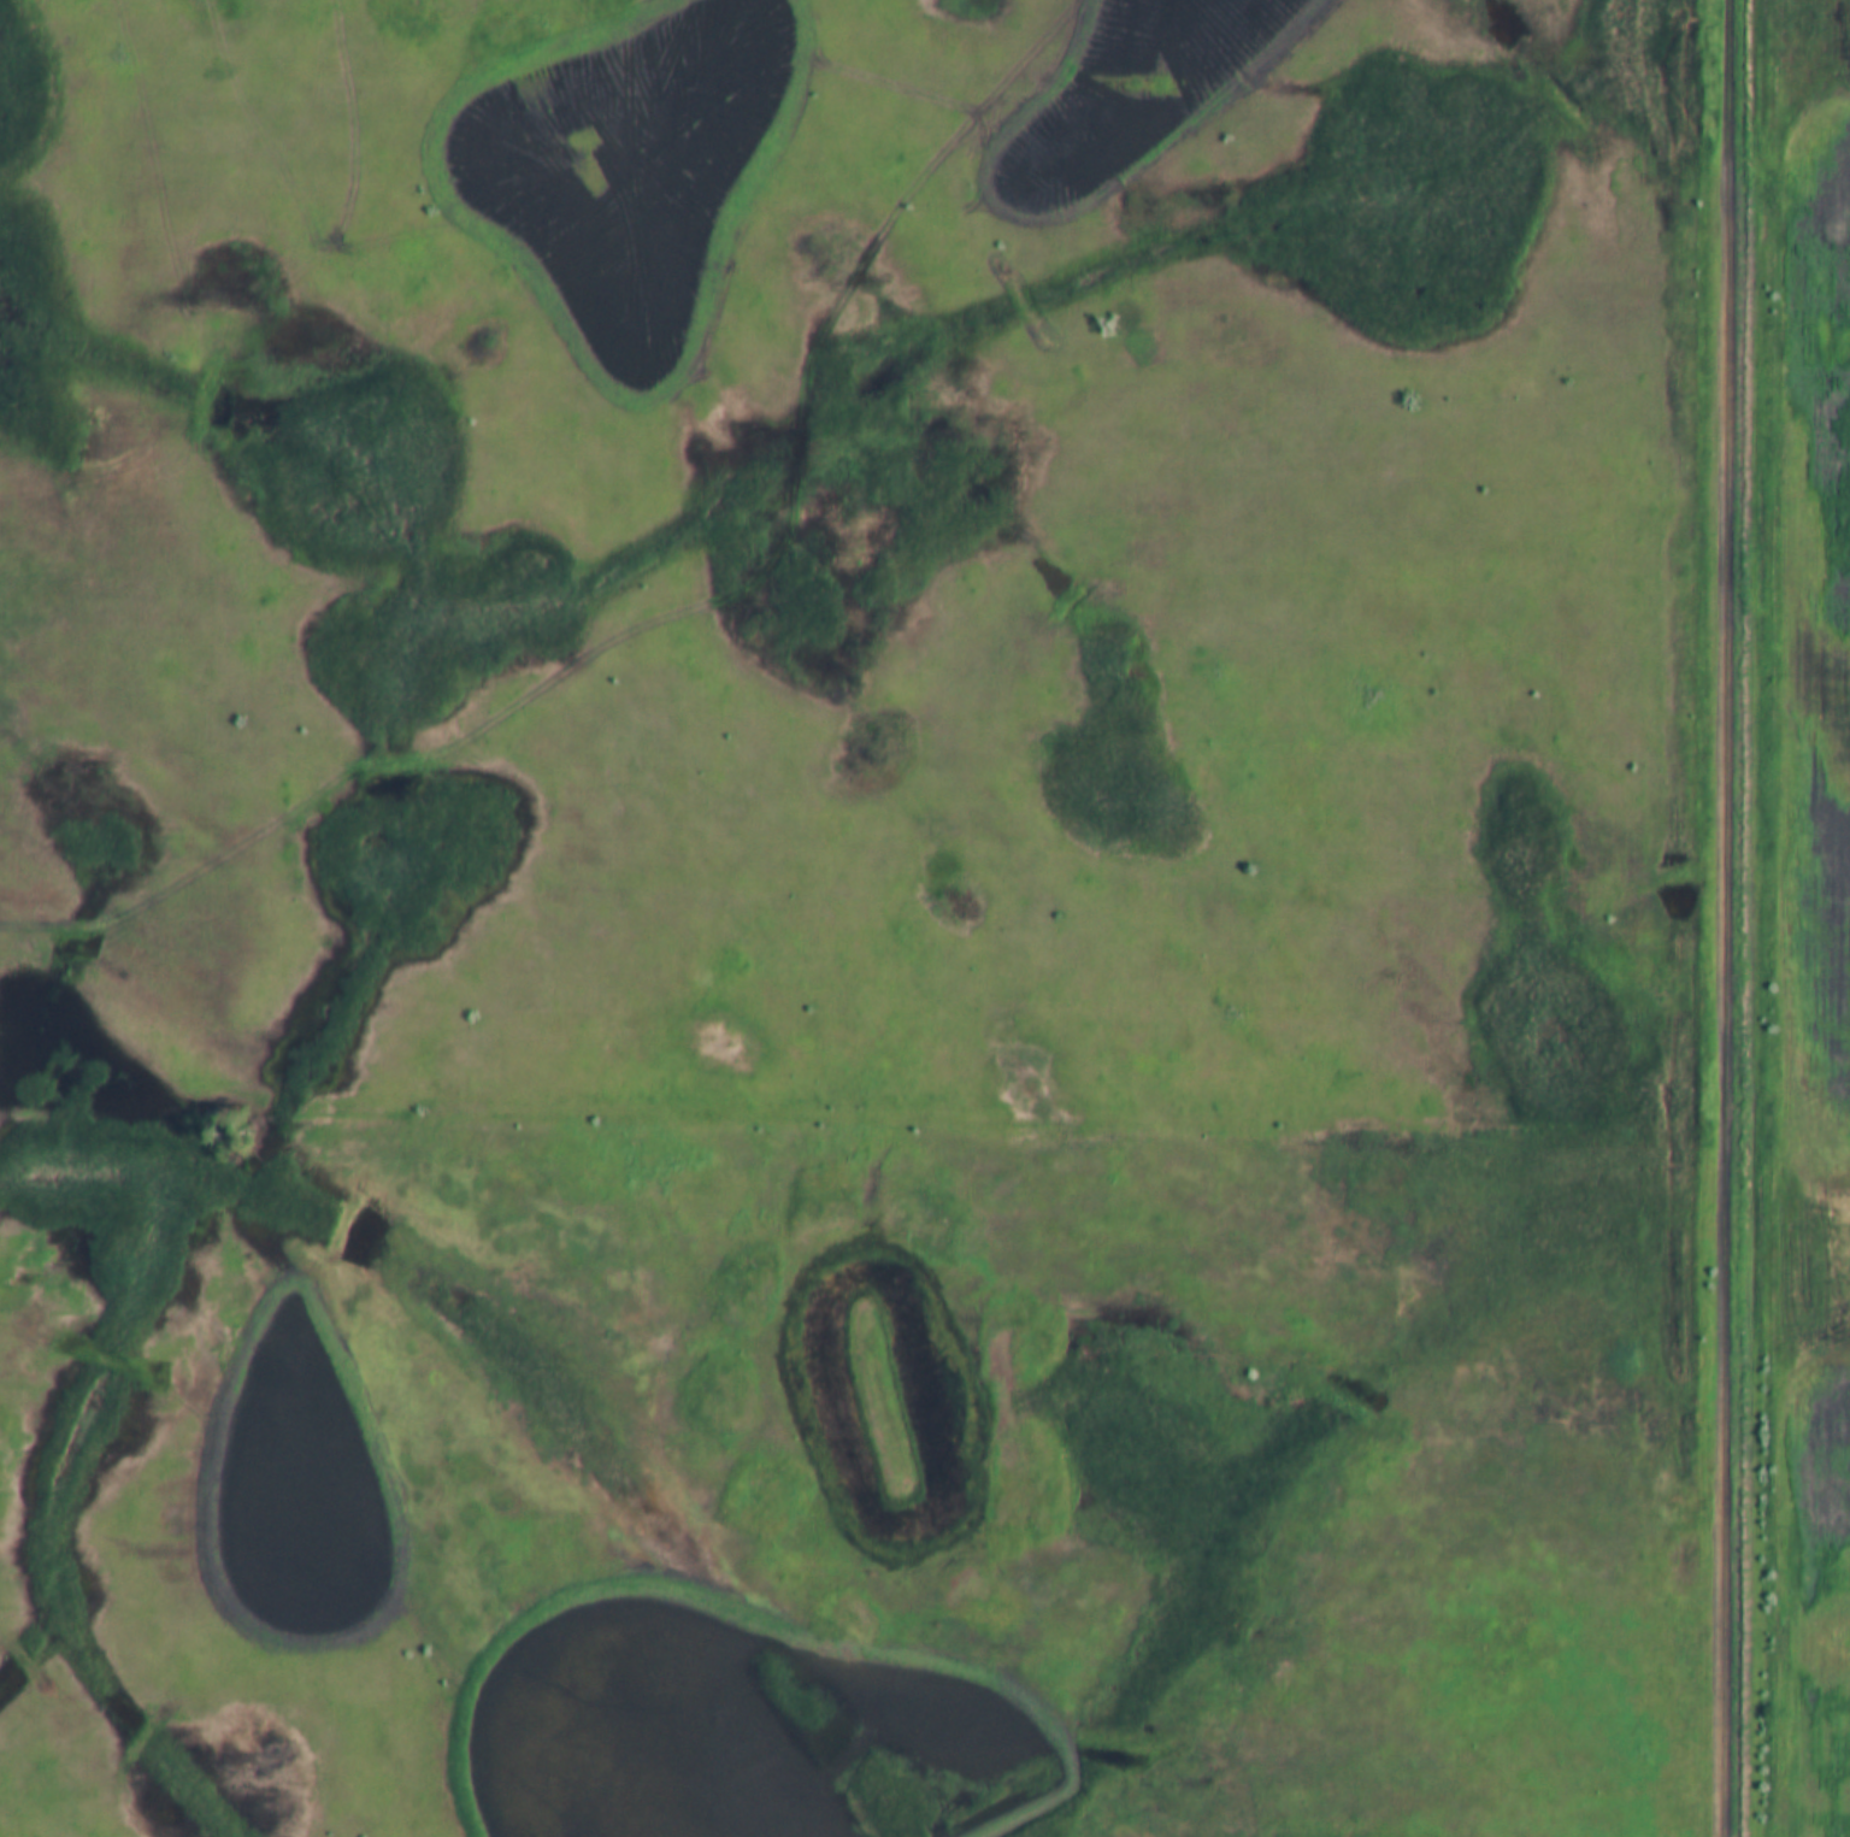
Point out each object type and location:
road: (1746, 918)

